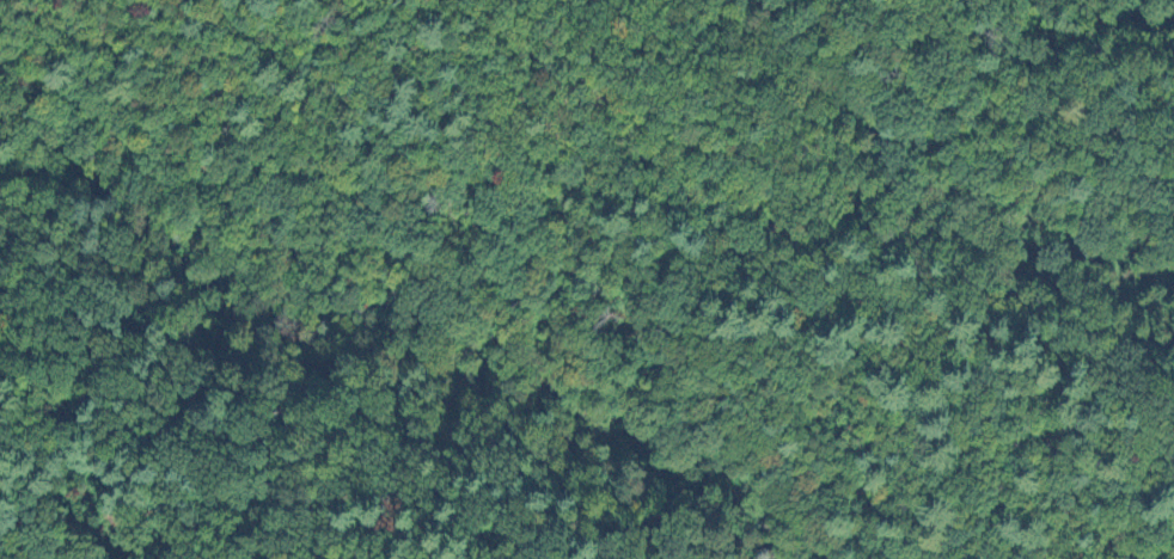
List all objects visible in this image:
road: (23, 31)

